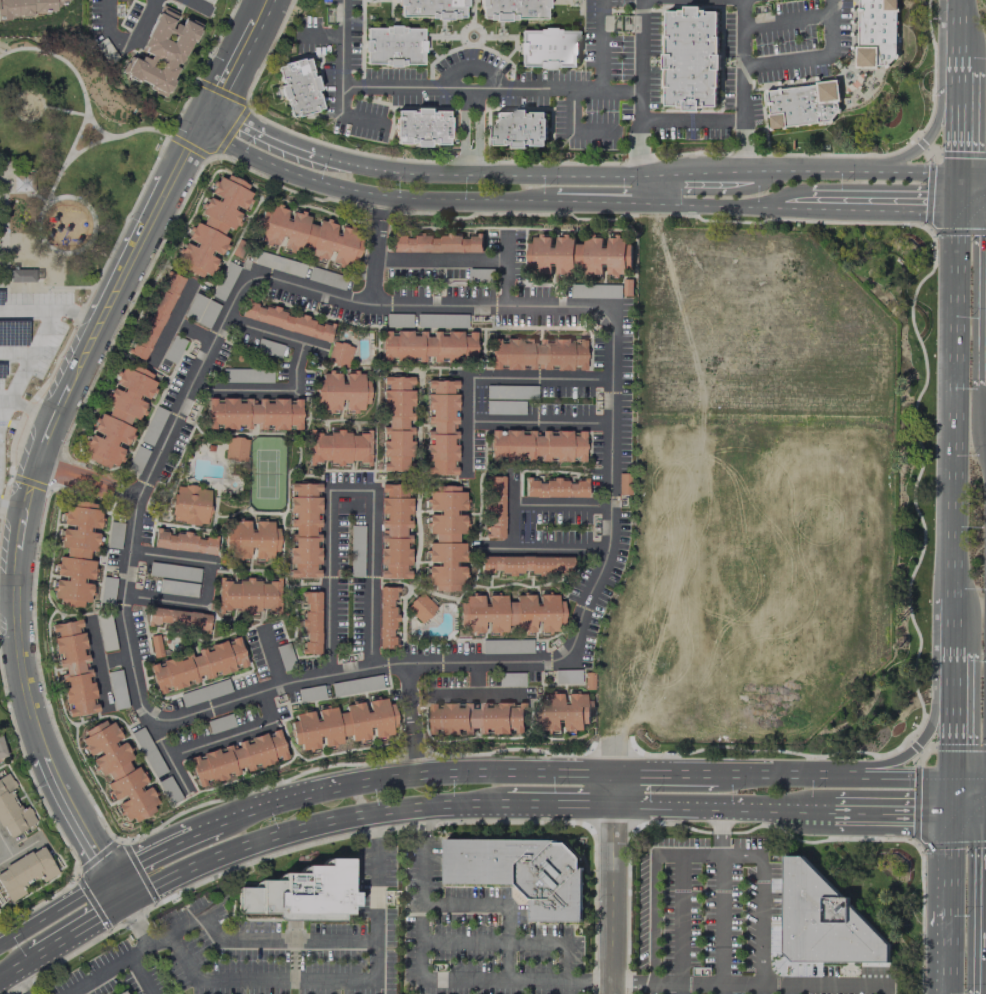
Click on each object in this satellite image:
building: (209, 1)
road: (199, 6)
building: (26, 7)
building: (430, 8)
building: (512, 10)
road: (960, 10)
road: (786, 21)
building: (877, 32)
fountain: (471, 36)
road: (600, 44)
building: (393, 46)
road: (959, 47)
building: (547, 49)
road: (11, 50)
building: (160, 51)
road: (131, 55)
building: (690, 59)
road: (813, 60)
fountain: (847, 75)
road: (958, 84)
building: (299, 87)
road: (362, 87)
road: (510, 88)
road: (742, 88)
road: (638, 92)
building: (802, 105)
road: (63, 111)
road: (690, 121)
road: (94, 126)
building: (421, 127)
building: (518, 127)
road: (958, 135)
road: (76, 136)
road: (260, 137)
road: (920, 148)
traffic signals: (959, 150)
park: (67, 161)
road: (186, 161)
road: (856, 175)
road: (482, 176)
road: (57, 177)
road: (972, 177)
road: (704, 178)
building: (23, 182)
road: (656, 193)
road: (371, 196)
road: (958, 196)
road: (604, 208)
road: (733, 210)
road: (883, 213)
traffic signals: (926, 214)
road: (971, 215)
building: (212, 226)
road: (376, 227)
building: (306, 235)
road: (89, 237)
building: (436, 243)
building: (551, 254)
building: (603, 257)
road: (462, 260)
building: (278, 263)
building: (26, 276)
building: (323, 277)
building: (224, 280)
road: (67, 288)
building: (596, 291)
road: (52, 308)
road: (544, 308)
building: (200, 310)
building: (154, 315)
building: (285, 321)
building: (426, 346)
building: (268, 347)
building: (173, 348)
building: (339, 354)
building: (536, 354)
road: (78, 371)
road: (199, 375)
building: (246, 375)
road: (294, 376)
road: (490, 376)
building: (340, 391)
building: (510, 391)
road: (27, 406)
road: (953, 407)
building: (253, 413)
building: (118, 416)
road: (537, 422)
building: (396, 423)
building: (152, 425)
building: (440, 426)
building: (537, 445)
building: (337, 447)
building: (235, 448)
building: (136, 459)
park: (266, 474)
building: (623, 483)
road: (87, 484)
building: (554, 487)
road: (344, 488)
building: (189, 504)
building: (493, 506)
road: (12, 510)
road: (26, 511)
road: (510, 524)
building: (304, 530)
building: (393, 531)
building: (445, 538)
building: (249, 539)
building: (183, 542)
building: (356, 550)
building: (76, 553)
building: (523, 564)
building: (173, 571)
road: (205, 582)
building: (177, 588)
building: (107, 589)
building: (247, 594)
road: (8, 601)
building: (420, 607)
building: (509, 613)
building: (385, 617)
building: (177, 619)
building: (310, 622)
road: (948, 625)
building: (106, 634)
road: (574, 640)
building: (506, 645)
building: (284, 654)
road: (271, 657)
road: (112, 658)
road: (97, 663)
building: (197, 665)
building: (73, 667)
building: (566, 676)
road: (947, 678)
building: (510, 679)
building: (355, 685)
building: (116, 689)
building: (203, 693)
building: (310, 693)
road: (214, 706)
building: (564, 711)
road: (412, 718)
building: (476, 718)
building: (219, 723)
building: (342, 723)
traffic signals: (947, 739)
road: (217, 740)
road: (947, 741)
road: (44, 746)
building: (146, 749)
building: (1, 750)
building: (236, 757)
road: (874, 764)
building: (118, 770)
road: (495, 771)
road: (563, 772)
road: (603, 773)
road: (666, 774)
road: (746, 774)
road: (861, 776)
road: (966, 778)
road: (332, 785)
building: (168, 789)
road: (946, 798)
road: (561, 803)
road: (721, 807)
building: (12, 809)
road: (885, 817)
traffic signals: (916, 818)
road: (966, 818)
road: (315, 828)
road: (718, 831)
road: (7, 843)
road: (162, 848)
road: (22, 851)
road: (740, 855)
road: (946, 863)
building: (25, 872)
building: (520, 875)
road: (616, 883)
road: (116, 887)
road: (653, 888)
building: (304, 894)
road: (499, 905)
road: (54, 908)
road: (680, 921)
building: (823, 924)
road: (80, 928)
road: (260, 937)
road: (510, 942)
road: (138, 947)
road: (945, 951)
road: (12, 968)
road: (97, 974)
road: (140, 974)
road: (23, 980)
road: (300, 980)
road: (431, 980)
road: (750, 985)
road: (773, 986)
road: (838, 988)
road: (653, 989)
road: (787, 990)
building: (121, 993)
building: (123, 993)

